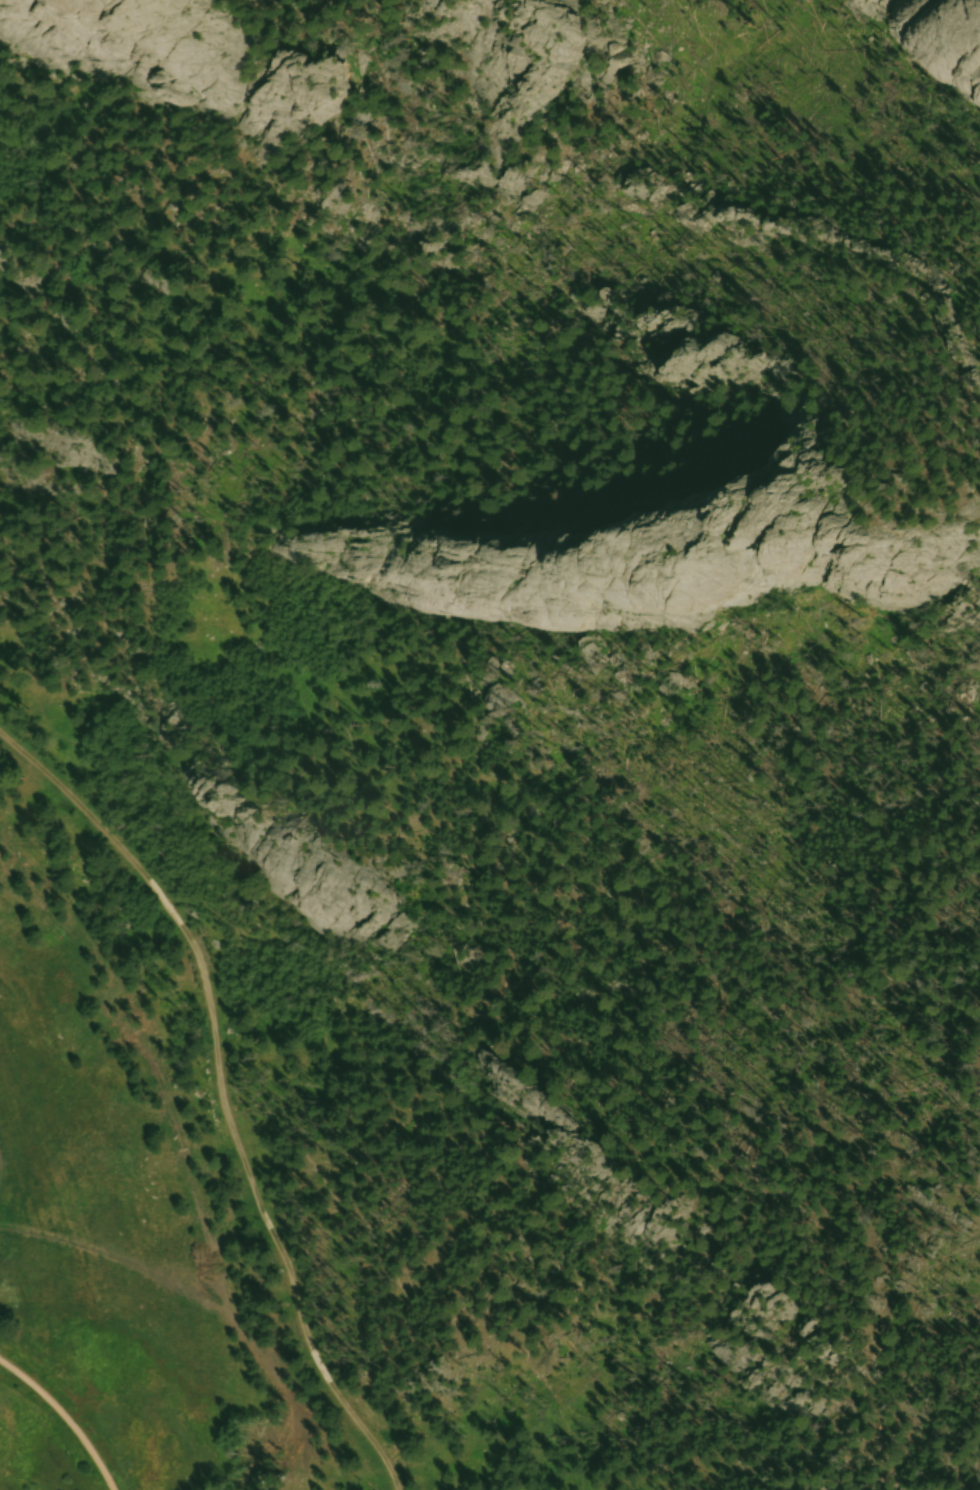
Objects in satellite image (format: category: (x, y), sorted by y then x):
road: (65, 1418)

